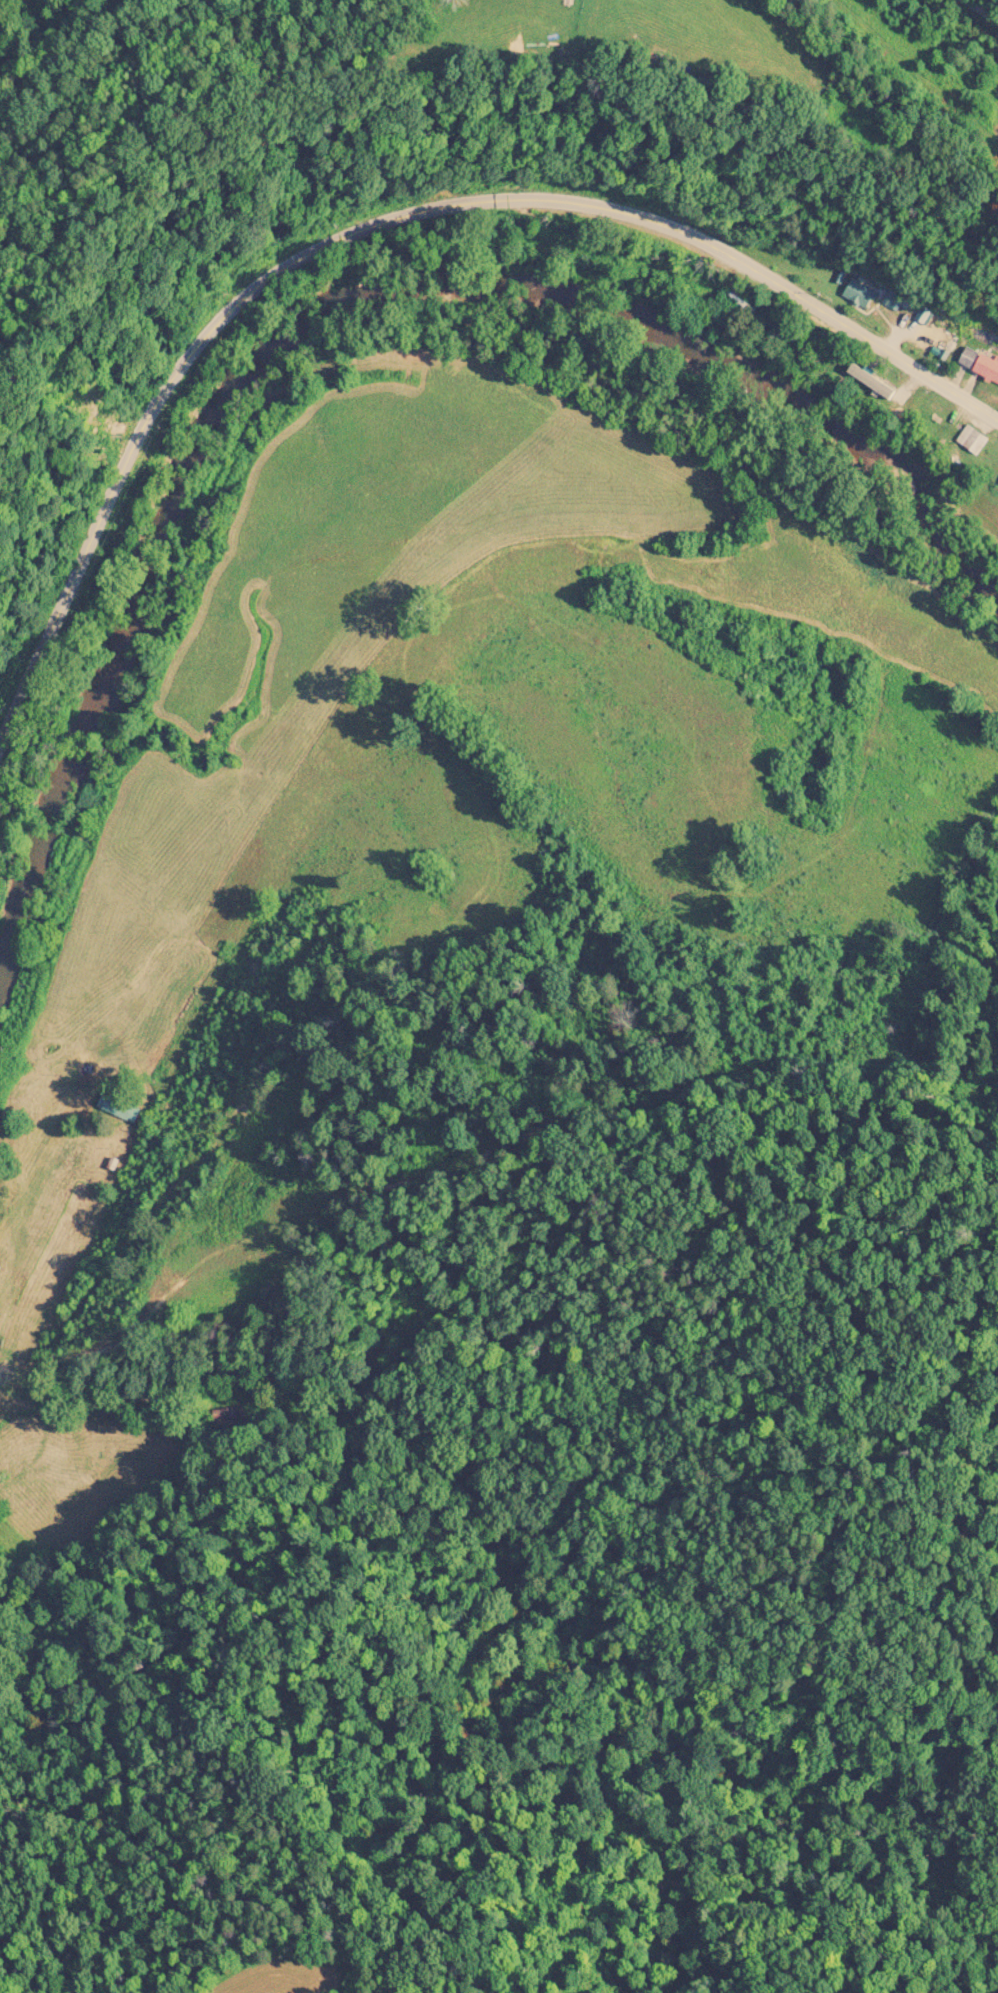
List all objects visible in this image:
road: (381, 223)
building: (855, 296)
building: (733, 302)
river: (325, 312)
building: (977, 366)
building: (968, 441)
building: (996, 486)
road: (31, 1174)

